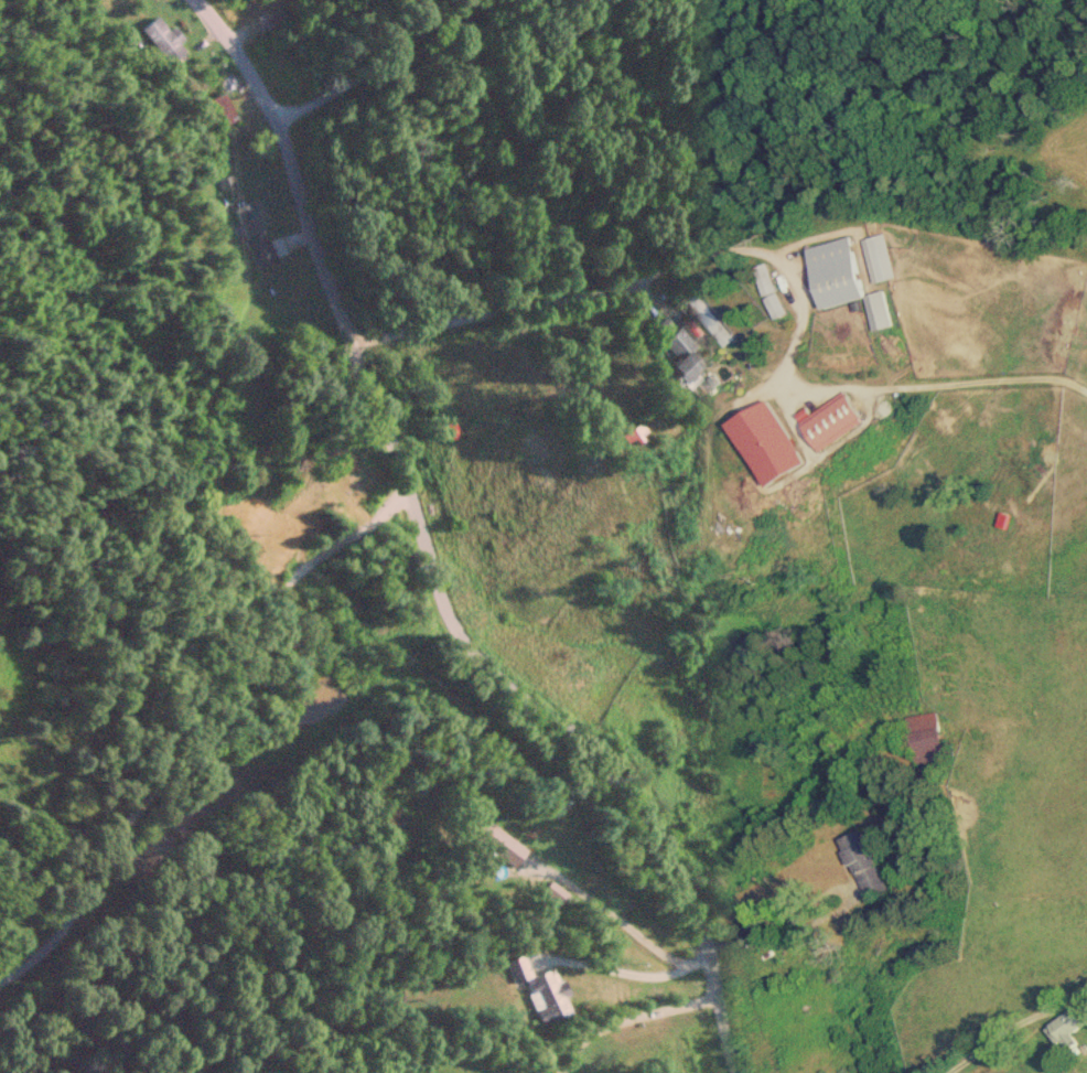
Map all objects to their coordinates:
road: (368, 55)
road: (628, 285)
road: (431, 557)
road: (204, 699)
road: (615, 916)
road: (622, 970)
road: (624, 1019)

